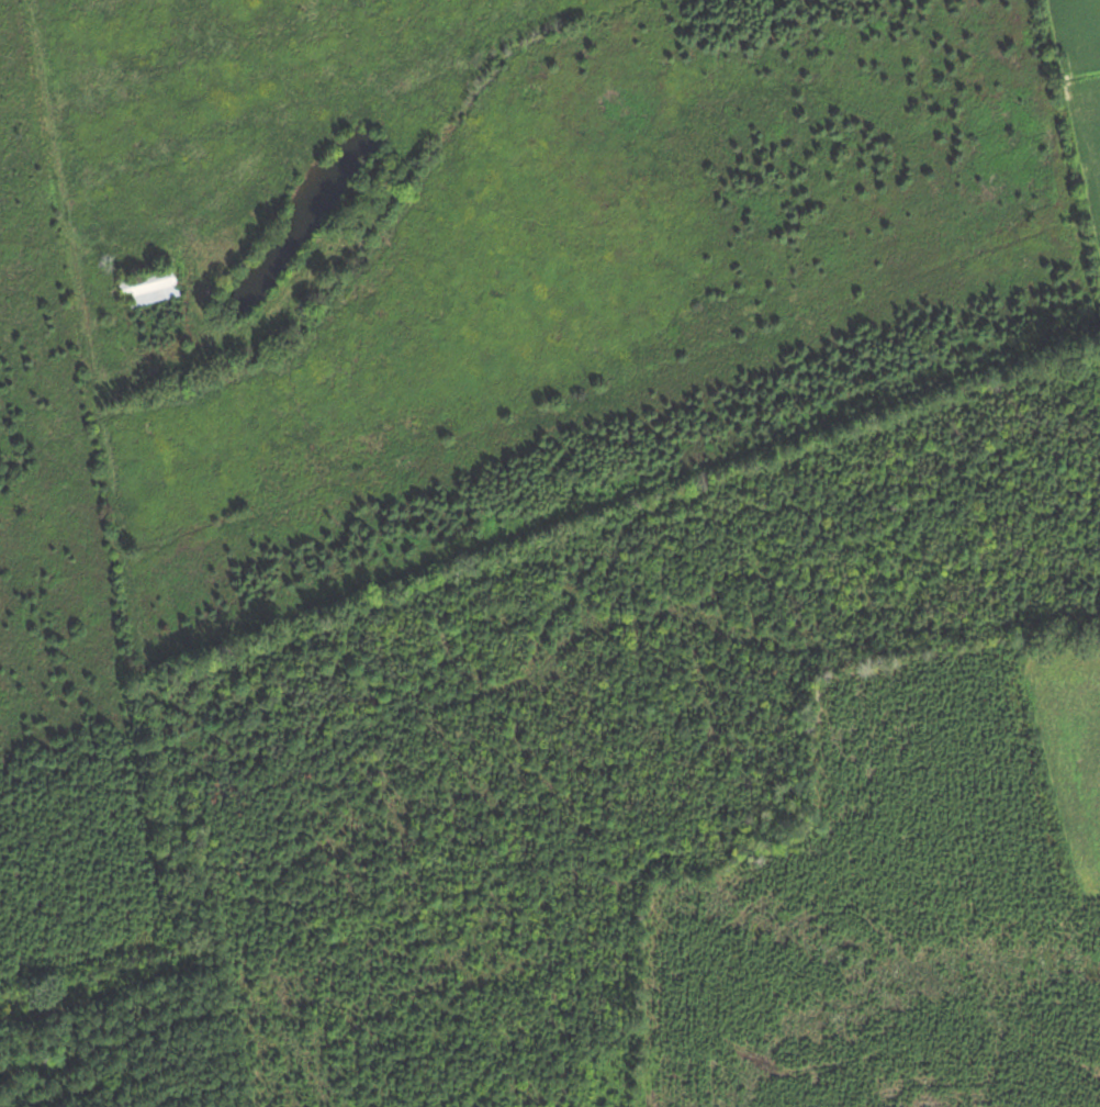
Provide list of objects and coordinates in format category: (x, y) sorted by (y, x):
building: (146, 288)

